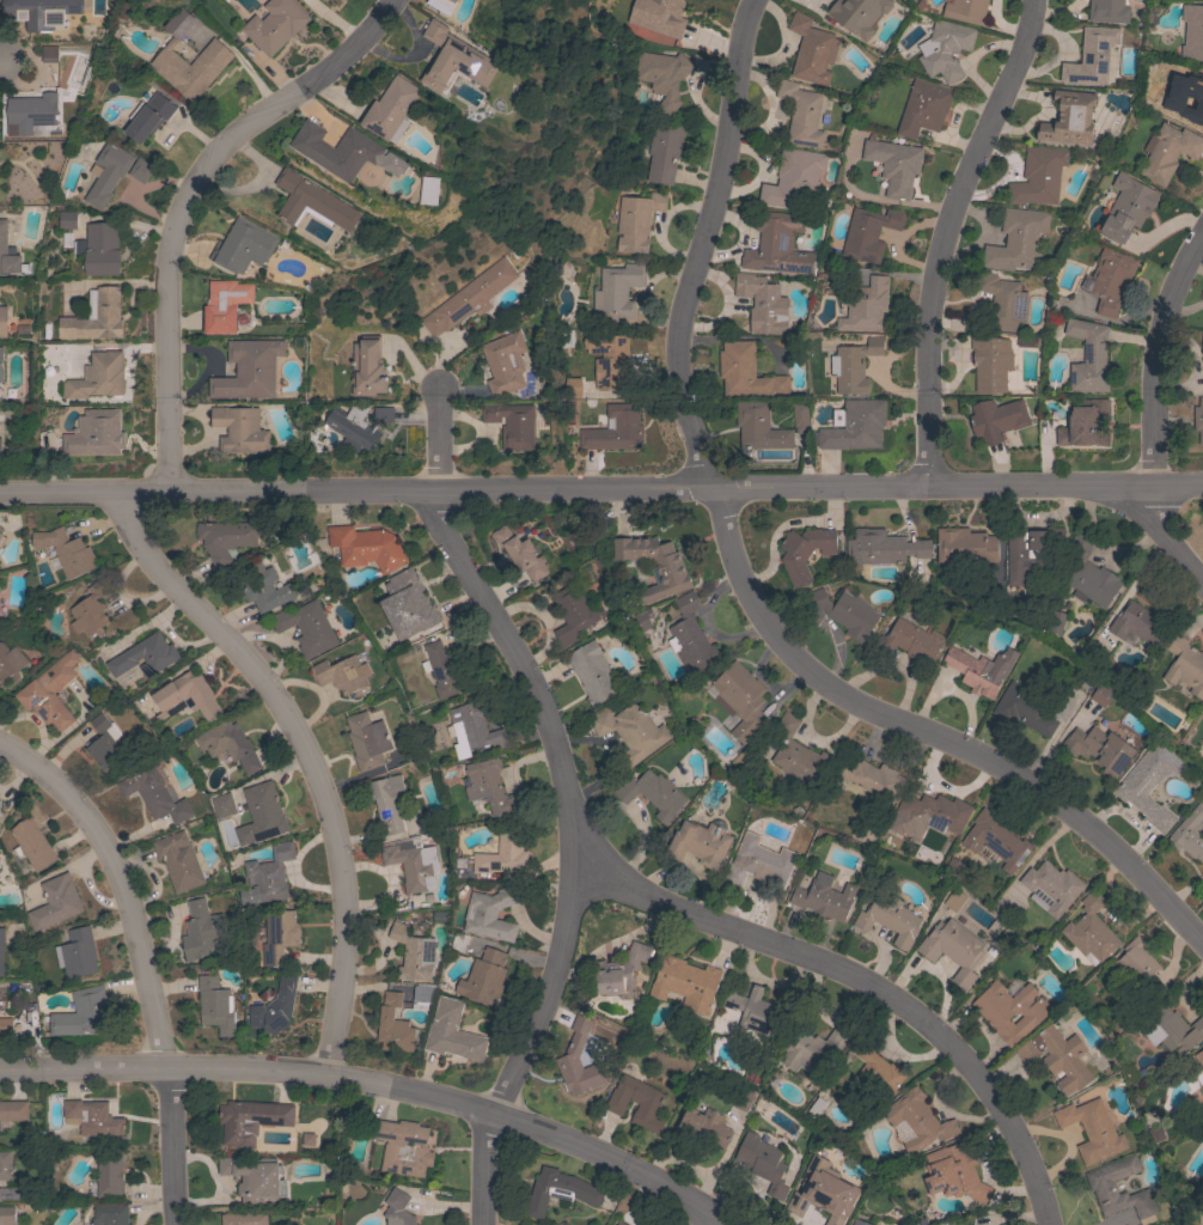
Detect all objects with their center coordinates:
building: (324, 0)
building: (900, 0)
building: (441, 5)
building: (966, 11)
building: (1107, 11)
building: (36, 13)
building: (857, 14)
building: (658, 16)
building: (274, 25)
building: (1192, 31)
building: (944, 49)
building: (811, 50)
building: (48, 54)
building: (1091, 56)
building: (454, 59)
road: (1, 60)
building: (210, 60)
building: (661, 77)
building: (1184, 99)
building: (923, 108)
building: (390, 110)
building: (30, 112)
building: (800, 114)
building: (147, 117)
building: (1070, 117)
building: (662, 151)
building: (343, 152)
building: (1167, 152)
building: (893, 165)
building: (140, 170)
building: (106, 172)
building: (1038, 176)
building: (793, 178)
building: (429, 190)
road: (181, 201)
building: (311, 202)
building: (1126, 207)
building: (66, 220)
building: (636, 221)
building: (868, 233)
road: (946, 238)
building: (1016, 239)
road: (701, 244)
building: (777, 245)
building: (242, 246)
building: (102, 249)
building: (10, 255)
building: (1111, 279)
building: (617, 292)
building: (469, 297)
building: (1002, 303)
building: (762, 304)
building: (224, 305)
building: (866, 306)
building: (96, 318)
building: (5, 322)
building: (1202, 343)
building: (1088, 358)
building: (609, 359)
building: (503, 362)
building: (1, 364)
building: (853, 364)
building: (990, 364)
building: (367, 367)
building: (249, 370)
building: (745, 372)
building: (97, 377)
building: (572, 388)
road: (1153, 410)
building: (800, 419)
building: (996, 420)
building: (1198, 420)
building: (1088, 421)
building: (512, 423)
building: (358, 426)
building: (853, 426)
building: (759, 427)
building: (239, 429)
building: (613, 429)
building: (96, 433)
building: (0, 446)
road: (601, 489)
building: (1, 537)
building: (227, 538)
building: (965, 546)
building: (365, 547)
building: (883, 548)
building: (0, 549)
building: (65, 551)
building: (804, 553)
building: (1027, 553)
building: (521, 554)
building: (654, 565)
building: (1088, 574)
building: (264, 587)
building: (407, 603)
building: (90, 611)
building: (844, 611)
building: (572, 614)
building: (643, 618)
building: (1056, 623)
building: (1137, 623)
building: (307, 628)
building: (690, 635)
building: (912, 641)
building: (143, 656)
building: (10, 664)
building: (1185, 665)
building: (442, 670)
building: (981, 670)
building: (593, 672)
building: (342, 675)
building: (50, 693)
building: (1101, 695)
building: (185, 696)
building: (740, 700)
building: (1024, 709)
building: (476, 726)
building: (630, 731)
road: (932, 732)
building: (367, 741)
building: (228, 743)
building: (103, 744)
building: (1099, 749)
road: (300, 752)
building: (798, 754)
building: (871, 778)
building: (1149, 784)
building: (489, 786)
building: (652, 793)
building: (153, 794)
road: (566, 797)
building: (387, 802)
building: (222, 805)
building: (934, 811)
building: (261, 815)
building: (1190, 833)
building: (996, 840)
building: (31, 843)
building: (697, 843)
building: (502, 854)
building: (178, 860)
building: (759, 863)
building: (413, 864)
building: (952, 866)
building: (268, 876)
building: (1050, 888)
building: (824, 897)
building: (953, 900)
building: (55, 902)
building: (999, 908)
building: (490, 914)
building: (888, 916)
building: (201, 930)
building: (1089, 931)
building: (279, 935)
building: (462, 943)
building: (953, 949)
building: (1, 952)
building: (77, 953)
building: (414, 953)
road: (139, 961)
building: (1137, 967)
building: (619, 971)
building: (484, 977)
road: (865, 981)
building: (685, 983)
building: (423, 993)
building: (215, 1005)
building: (273, 1010)
building: (1010, 1010)
building: (755, 1011)
building: (84, 1013)
building: (393, 1025)
building: (5, 1026)
building: (1168, 1028)
building: (458, 1034)
building: (1202, 1047)
building: (812, 1049)
building: (1056, 1056)
building: (578, 1061)
building: (1195, 1066)
building: (877, 1073)
road: (379, 1084)
building: (743, 1099)
building: (636, 1101)
building: (13, 1110)
building: (93, 1117)
building: (251, 1120)
building: (916, 1121)
building: (702, 1127)
building: (1091, 1129)
building: (403, 1147)
building: (762, 1163)
building: (5, 1165)
building: (109, 1172)
building: (960, 1174)
building: (255, 1178)
building: (1195, 1181)
building: (822, 1189)
building: (1103, 1189)
building: (560, 1190)
building: (11, 1194)
building: (397, 1208)
building: (109, 1214)
road: (709, 1214)
building: (7, 1215)
building: (244, 1218)
building: (619, 1223)
building: (859, 1223)

